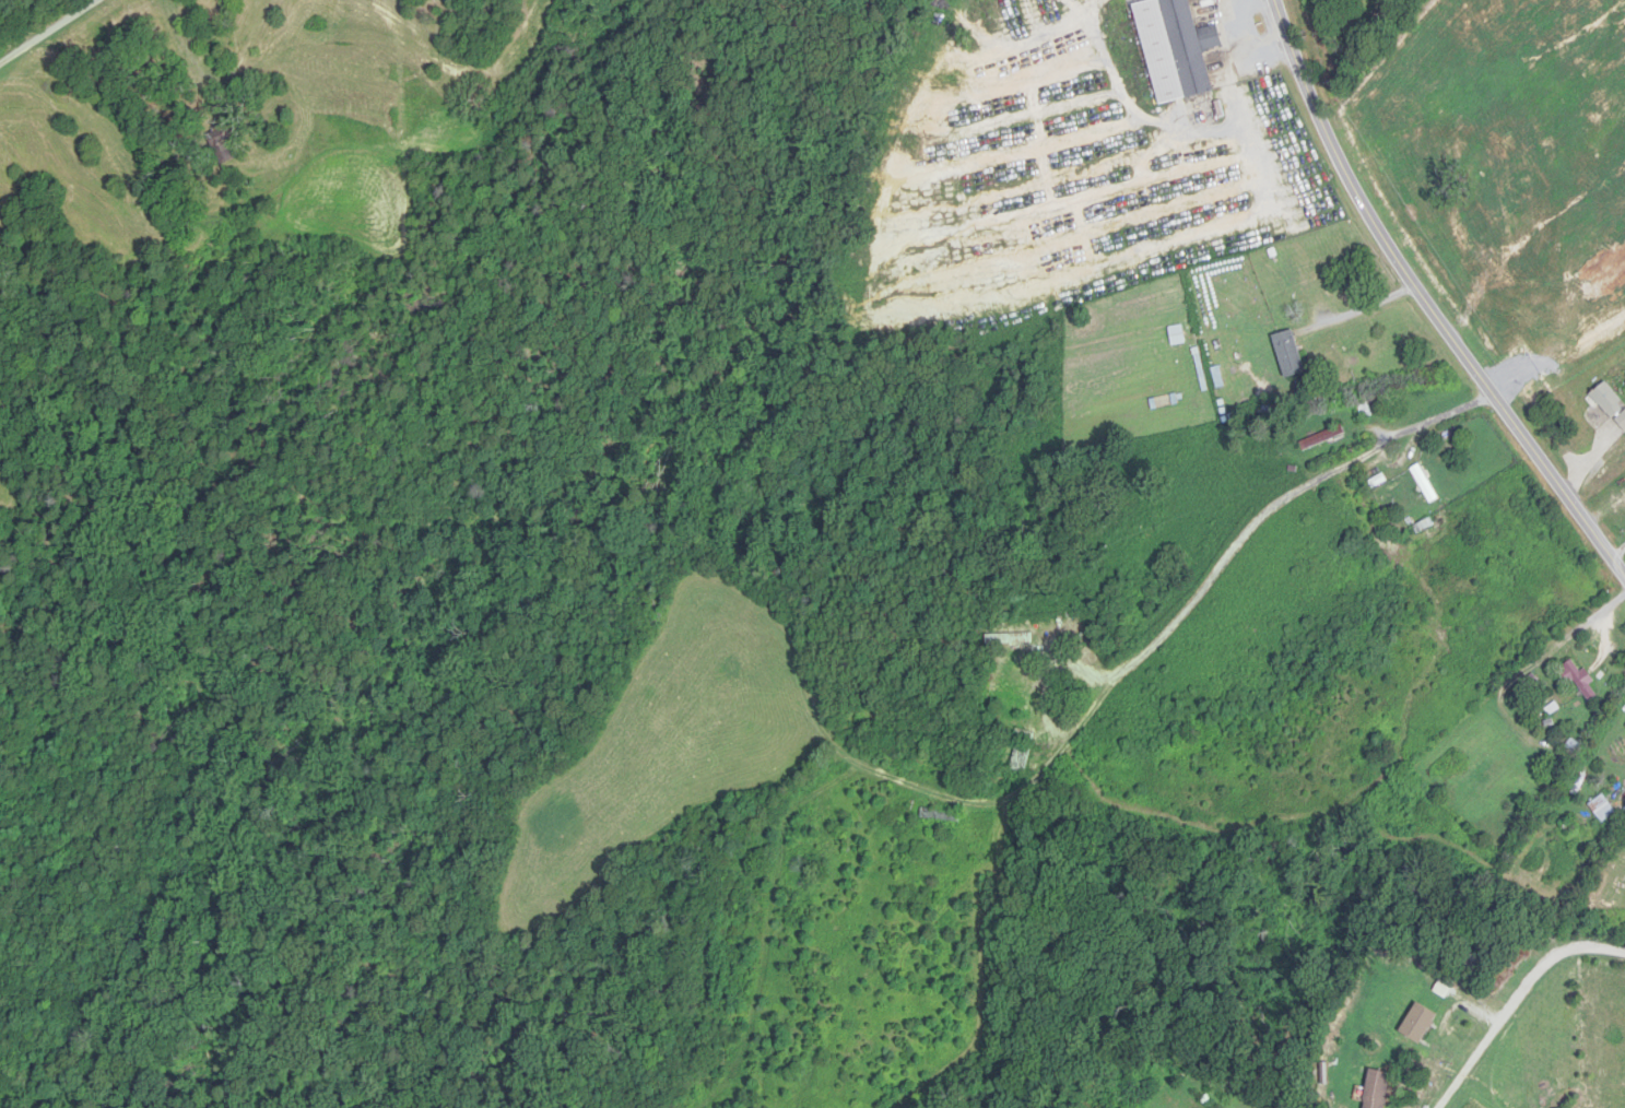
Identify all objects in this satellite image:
road: (54, 36)
road: (1253, 42)
building: (1176, 49)
building: (1502, 145)
building: (1477, 217)
road: (1425, 297)
road: (1364, 309)
building: (1290, 354)
building: (1611, 403)
building: (1366, 411)
building: (1323, 438)
road: (1620, 551)
road: (1210, 577)
building: (1010, 639)
building: (1581, 681)
building: (1550, 703)
building: (1021, 757)
building: (1603, 809)
building: (941, 815)
building: (1475, 963)
road: (1516, 1001)
building: (1418, 1024)
building: (1378, 1089)

